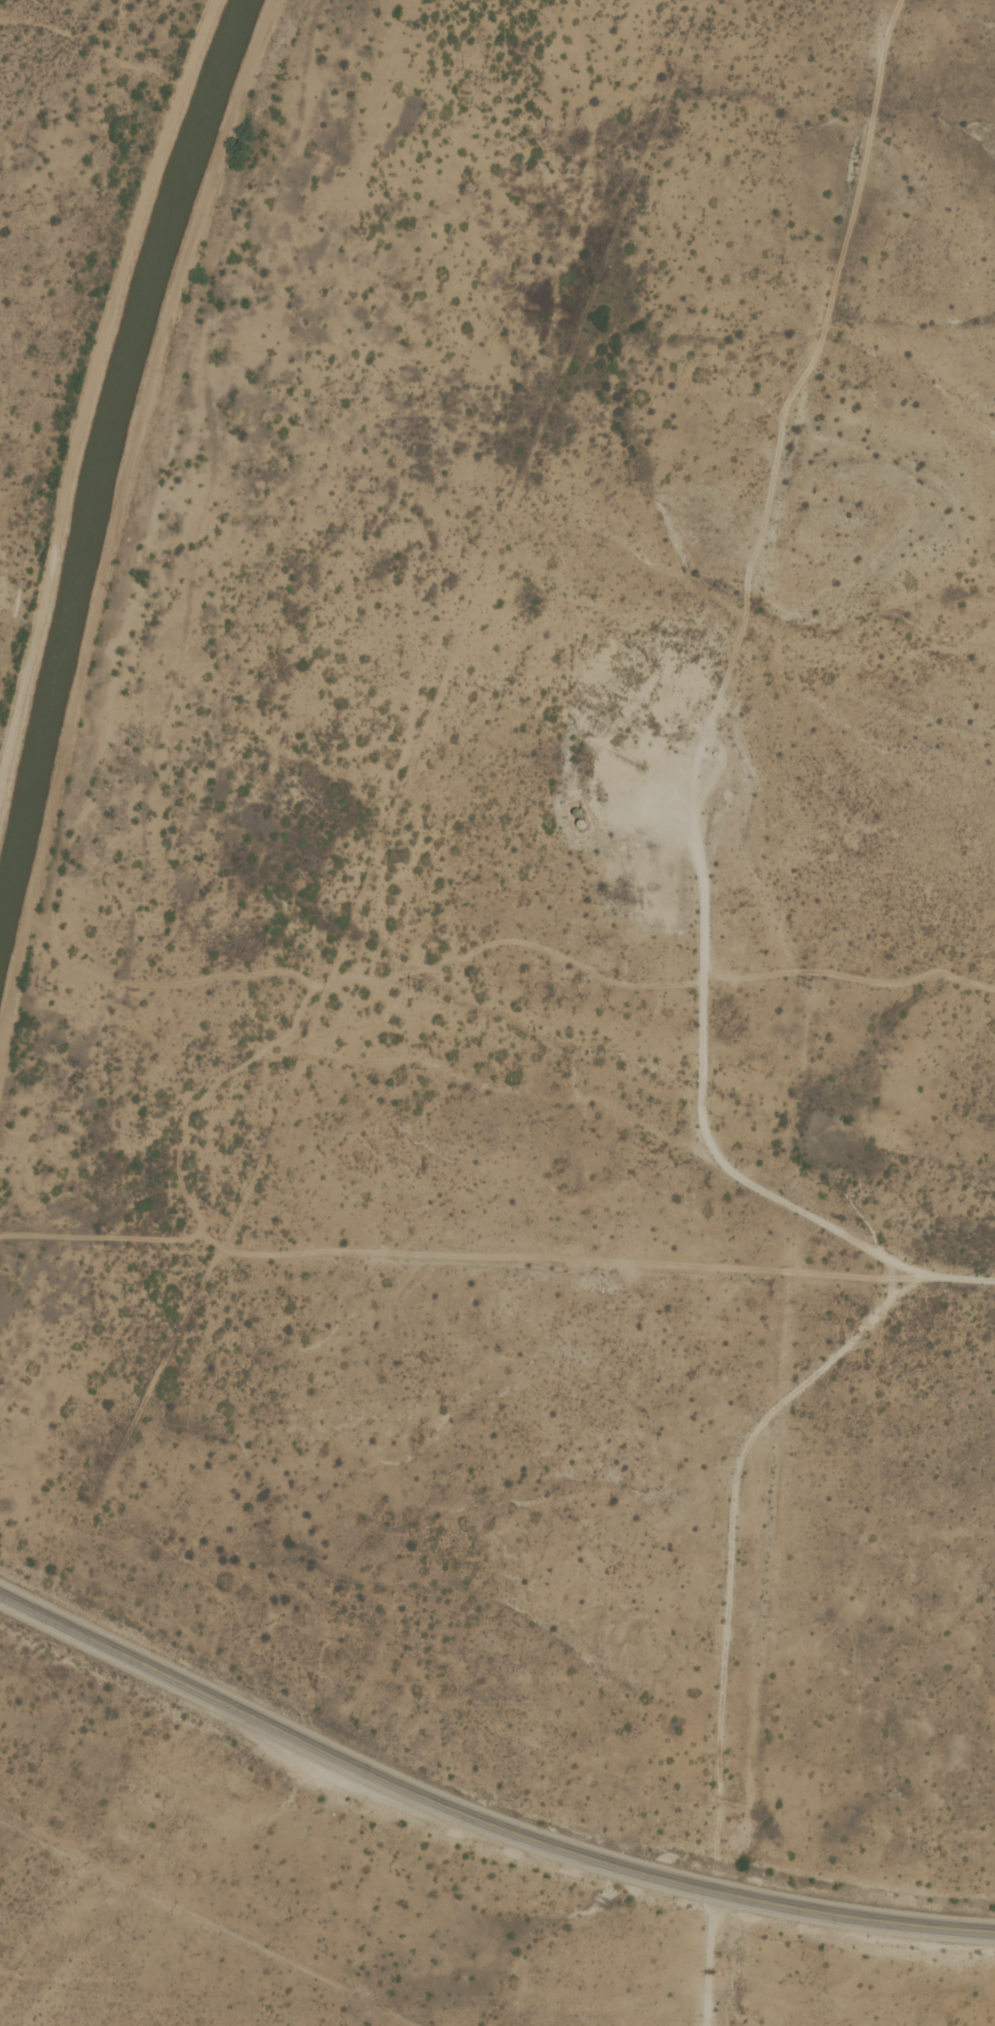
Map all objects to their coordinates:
road: (805, 356)
road: (701, 1057)
road: (893, 1274)
road: (742, 1454)
road: (479, 1819)
road: (707, 1957)

